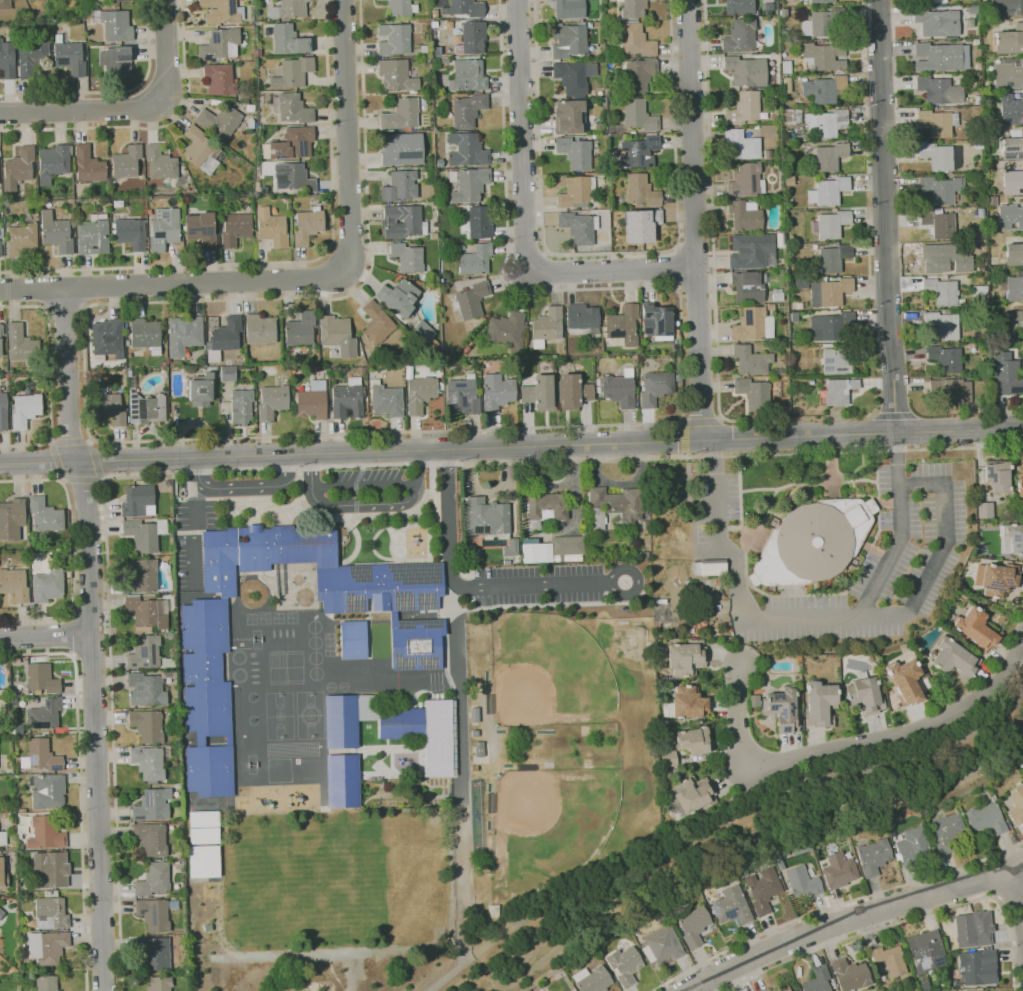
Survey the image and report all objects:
building: (28, 0)
building: (31, 0)
building: (121, 0)
building: (821, 1)
building: (931, 1)
building: (5, 4)
building: (398, 7)
building: (739, 7)
building: (1006, 7)
building: (465, 8)
building: (633, 8)
building: (288, 9)
building: (569, 9)
building: (222, 11)
building: (757, 13)
building: (936, 22)
building: (819, 23)
building: (114, 24)
building: (590, 25)
building: (740, 36)
building: (474, 37)
building: (394, 39)
building: (289, 40)
building: (568, 40)
building: (634, 40)
building: (1009, 40)
building: (220, 46)
building: (424, 49)
building: (259, 52)
building: (820, 56)
building: (32, 57)
building: (936, 57)
building: (70, 58)
building: (427, 59)
building: (7, 60)
building: (445, 60)
building: (117, 61)
building: (746, 71)
building: (293, 73)
building: (638, 74)
building: (396, 75)
building: (1008, 75)
building: (468, 76)
building: (573, 76)
building: (219, 78)
building: (822, 88)
building: (938, 90)
road: (114, 92)
building: (775, 95)
building: (602, 102)
road: (129, 108)
building: (743, 108)
building: (1009, 108)
building: (294, 109)
building: (468, 110)
building: (604, 110)
building: (402, 115)
building: (567, 116)
building: (639, 116)
building: (220, 121)
building: (936, 122)
building: (824, 123)
building: (250, 124)
road: (149, 127)
building: (615, 129)
road: (347, 134)
building: (290, 145)
building: (740, 145)
building: (1012, 147)
building: (402, 149)
building: (467, 150)
building: (202, 151)
building: (575, 152)
building: (638, 152)
building: (768, 154)
building: (938, 155)
building: (828, 156)
building: (126, 162)
building: (53, 163)
building: (161, 163)
building: (440, 163)
building: (88, 165)
building: (18, 168)
building: (294, 177)
building: (746, 181)
building: (1012, 181)
building: (469, 184)
building: (400, 186)
building: (939, 188)
building: (641, 191)
building: (826, 191)
building: (577, 192)
building: (1022, 198)
building: (118, 203)
road: (712, 210)
building: (745, 215)
building: (97, 216)
road: (883, 217)
building: (1009, 217)
road: (694, 219)
road: (525, 221)
building: (415, 222)
building: (480, 222)
building: (830, 224)
building: (938, 224)
building: (641, 225)
building: (307, 226)
building: (579, 227)
building: (272, 228)
building: (164, 229)
building: (201, 229)
building: (235, 229)
building: (56, 232)
building: (130, 233)
building: (433, 236)
building: (93, 238)
building: (21, 239)
building: (0, 248)
road: (695, 248)
building: (751, 250)
road: (609, 254)
building: (1013, 254)
building: (408, 257)
building: (831, 257)
building: (942, 258)
building: (476, 259)
road: (291, 261)
road: (676, 268)
road: (173, 284)
road: (696, 286)
building: (748, 286)
road: (45, 288)
road: (82, 288)
building: (1013, 288)
building: (941, 291)
building: (828, 292)
building: (777, 295)
building: (399, 297)
building: (471, 300)
road: (65, 307)
building: (771, 307)
building: (582, 317)
building: (1013, 320)
building: (657, 321)
building: (376, 324)
building: (942, 324)
building: (753, 325)
building: (547, 326)
building: (830, 326)
building: (622, 327)
building: (260, 329)
building: (300, 329)
building: (424, 332)
building: (508, 332)
building: (185, 334)
building: (227, 334)
building: (146, 335)
building: (338, 335)
building: (108, 339)
building: (128, 343)
building: (22, 344)
building: (0, 346)
building: (945, 358)
building: (751, 360)
building: (836, 361)
building: (163, 364)
building: (5, 369)
building: (779, 370)
building: (226, 373)
building: (1005, 374)
road: (48, 376)
building: (29, 385)
building: (598, 385)
building: (655, 388)
building: (619, 389)
building: (202, 390)
building: (838, 391)
building: (950, 391)
building: (573, 392)
building: (497, 393)
building: (540, 393)
building: (420, 394)
building: (754, 394)
building: (462, 396)
building: (348, 399)
building: (386, 400)
building: (272, 401)
building: (312, 401)
building: (109, 406)
building: (241, 406)
building: (147, 408)
building: (25, 410)
building: (3, 411)
road: (893, 415)
road: (701, 421)
road: (333, 433)
road: (683, 438)
road: (511, 446)
road: (285, 469)
building: (997, 476)
parking lot: (364, 477)
road: (100, 479)
road: (364, 486)
building: (1020, 487)
road: (229, 488)
building: (139, 501)
road: (365, 504)
building: (545, 505)
building: (613, 506)
building: (984, 509)
building: (46, 515)
building: (484, 516)
road: (449, 517)
building: (12, 519)
road: (901, 532)
building: (145, 534)
road: (194, 534)
parking lot: (192, 536)
building: (1014, 536)
building: (812, 541)
building: (566, 544)
building: (510, 547)
road: (73, 552)
building: (262, 552)
building: (541, 552)
road: (939, 556)
building: (708, 567)
building: (142, 576)
building: (997, 578)
road: (638, 581)
road: (735, 582)
building: (14, 584)
parking lot: (538, 585)
building: (48, 586)
road: (532, 586)
building: (379, 588)
building: (146, 613)
building: (974, 629)
road: (73, 635)
road: (46, 636)
road: (92, 638)
building: (353, 639)
building: (415, 642)
building: (145, 652)
building: (685, 658)
building: (952, 659)
park: (548, 666)
building: (205, 668)
building: (42, 678)
building: (905, 681)
building: (147, 689)
road: (111, 692)
building: (864, 695)
building: (688, 703)
building: (818, 703)
building: (439, 706)
building: (780, 710)
building: (45, 715)
building: (341, 721)
building: (401, 723)
building: (147, 725)
building: (18, 729)
building: (20, 738)
building: (693, 740)
road: (853, 743)
building: (44, 755)
building: (668, 757)
building: (148, 762)
building: (209, 770)
road: (461, 772)
building: (342, 781)
road: (80, 786)
building: (47, 790)
building: (692, 794)
building: (153, 805)
building: (1016, 805)
building: (6, 809)
building: (23, 810)
road: (741, 817)
building: (986, 819)
park: (554, 826)
building: (202, 827)
building: (946, 831)
building: (46, 833)
building: (3, 837)
building: (151, 838)
building: (911, 846)
road: (1017, 855)
building: (873, 856)
building: (202, 861)
building: (48, 867)
building: (838, 870)
building: (3, 874)
park: (333, 877)
building: (154, 879)
road: (983, 879)
building: (802, 882)
road: (1018, 885)
building: (763, 889)
road: (1010, 893)
building: (174, 905)
building: (732, 905)
road: (833, 906)
building: (1, 913)
building: (51, 913)
building: (154, 914)
road: (856, 918)
road: (903, 921)
building: (693, 926)
building: (970, 932)
building: (663, 943)
building: (47, 946)
building: (925, 952)
building: (153, 954)
building: (888, 962)
building: (624, 964)
building: (975, 966)
building: (850, 974)
road: (447, 975)
building: (594, 980)
building: (818, 980)
building: (46, 983)
building: (160, 983)
building: (783, 989)
building: (767, 990)
building: (981, 990)

